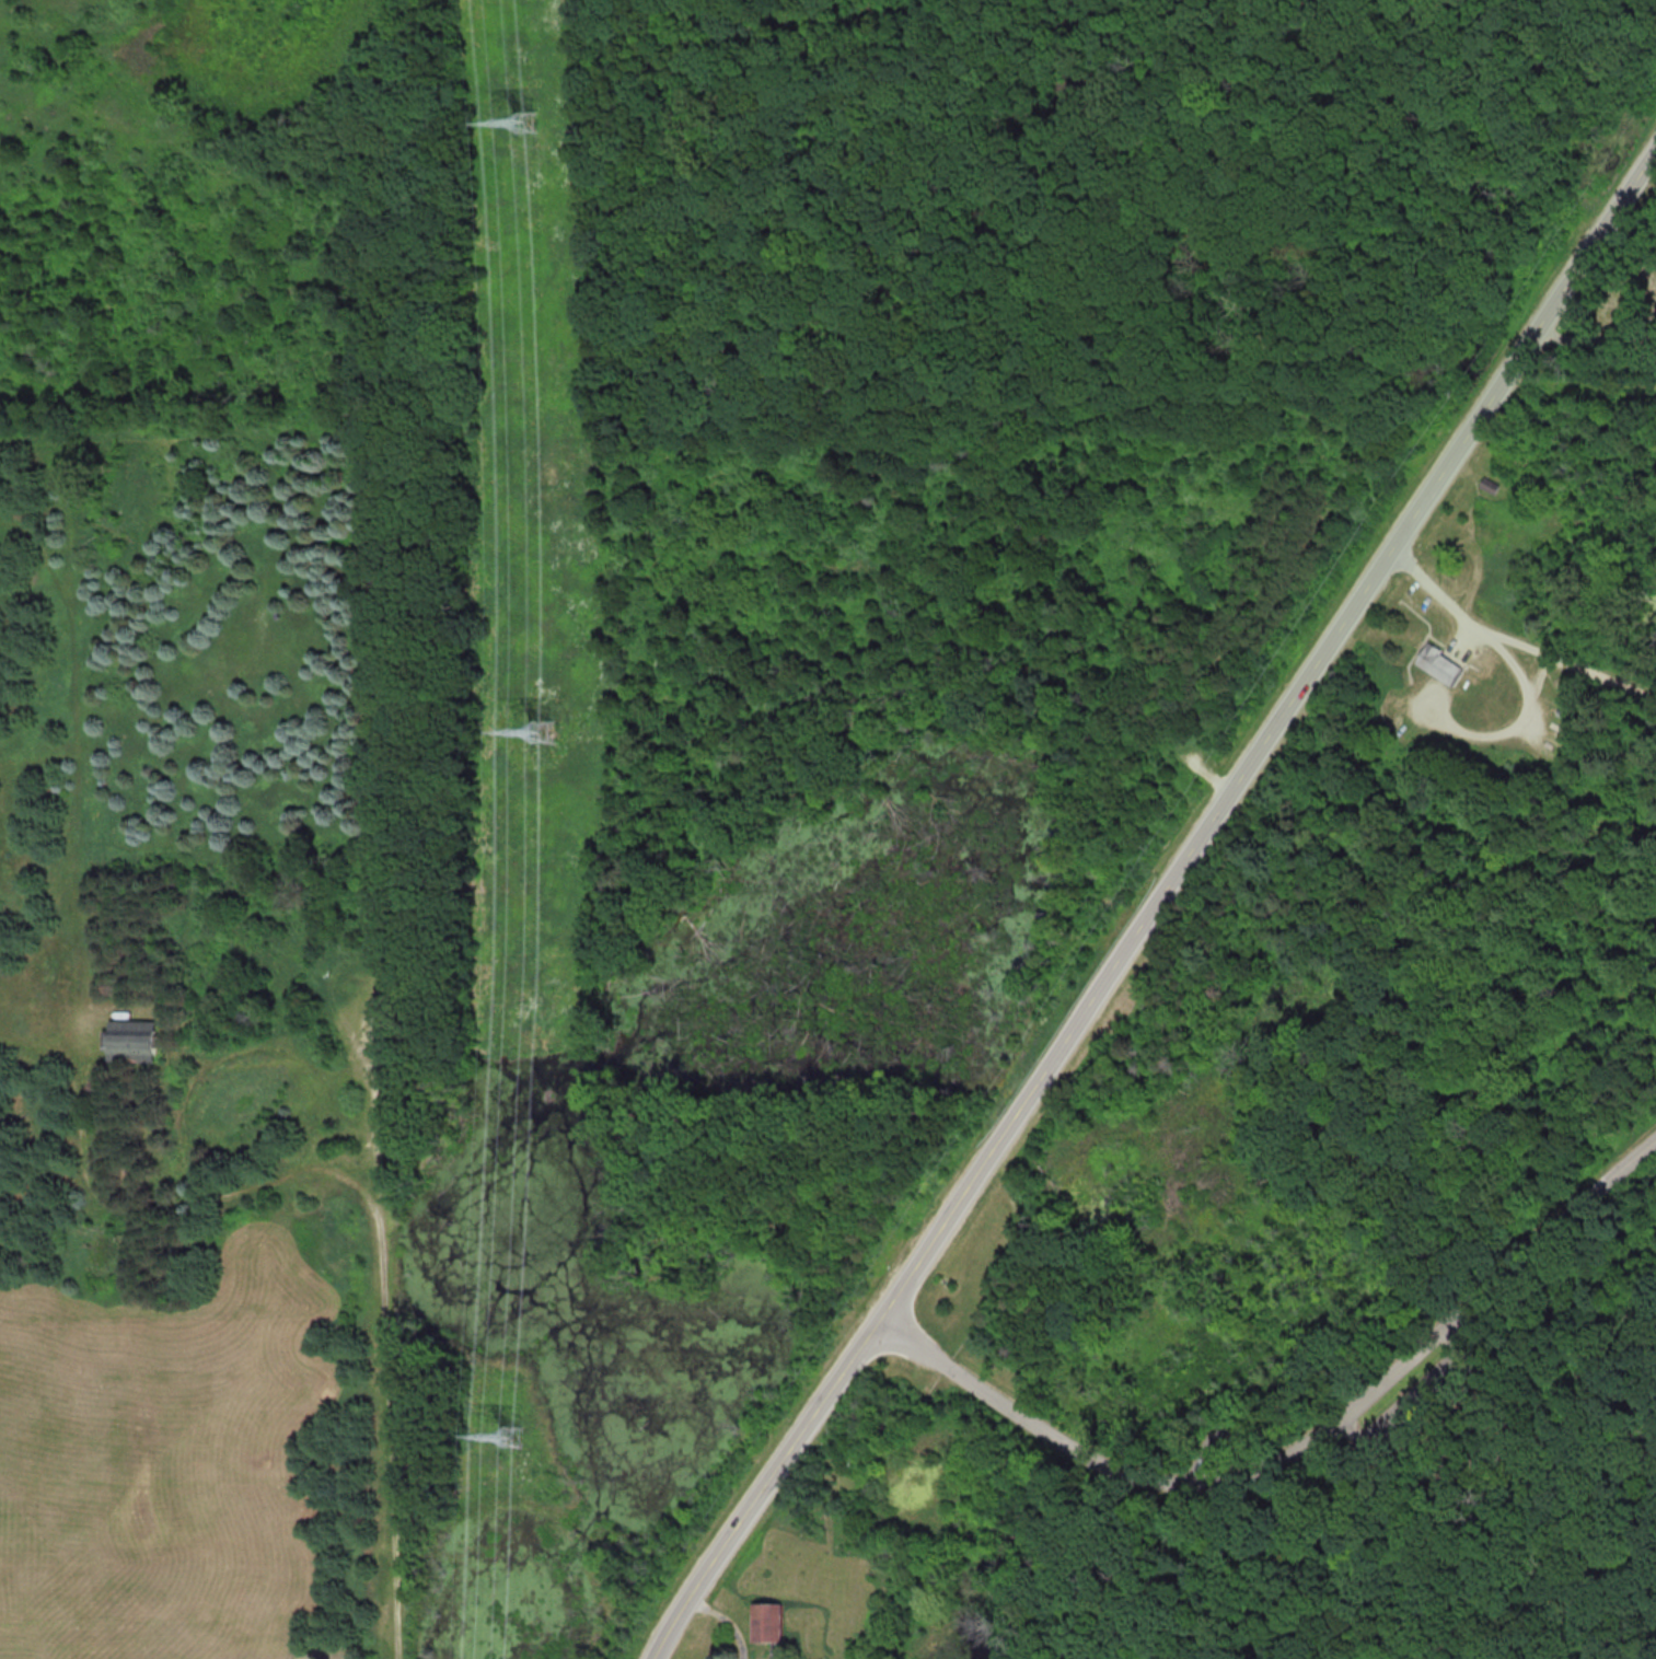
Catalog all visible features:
power tower: (523, 120)
road: (1593, 349)
building: (1485, 485)
road: (1514, 640)
building: (1431, 663)
road: (1527, 700)
power tower: (542, 729)
park: (988, 732)
road: (1154, 907)
building: (140, 1042)
road: (380, 1252)
parking lot: (1414, 1402)
road: (1416, 1404)
road: (1223, 1431)
power tower: (509, 1437)
road: (1299, 1448)
building: (1225, 1490)
building: (768, 1621)

